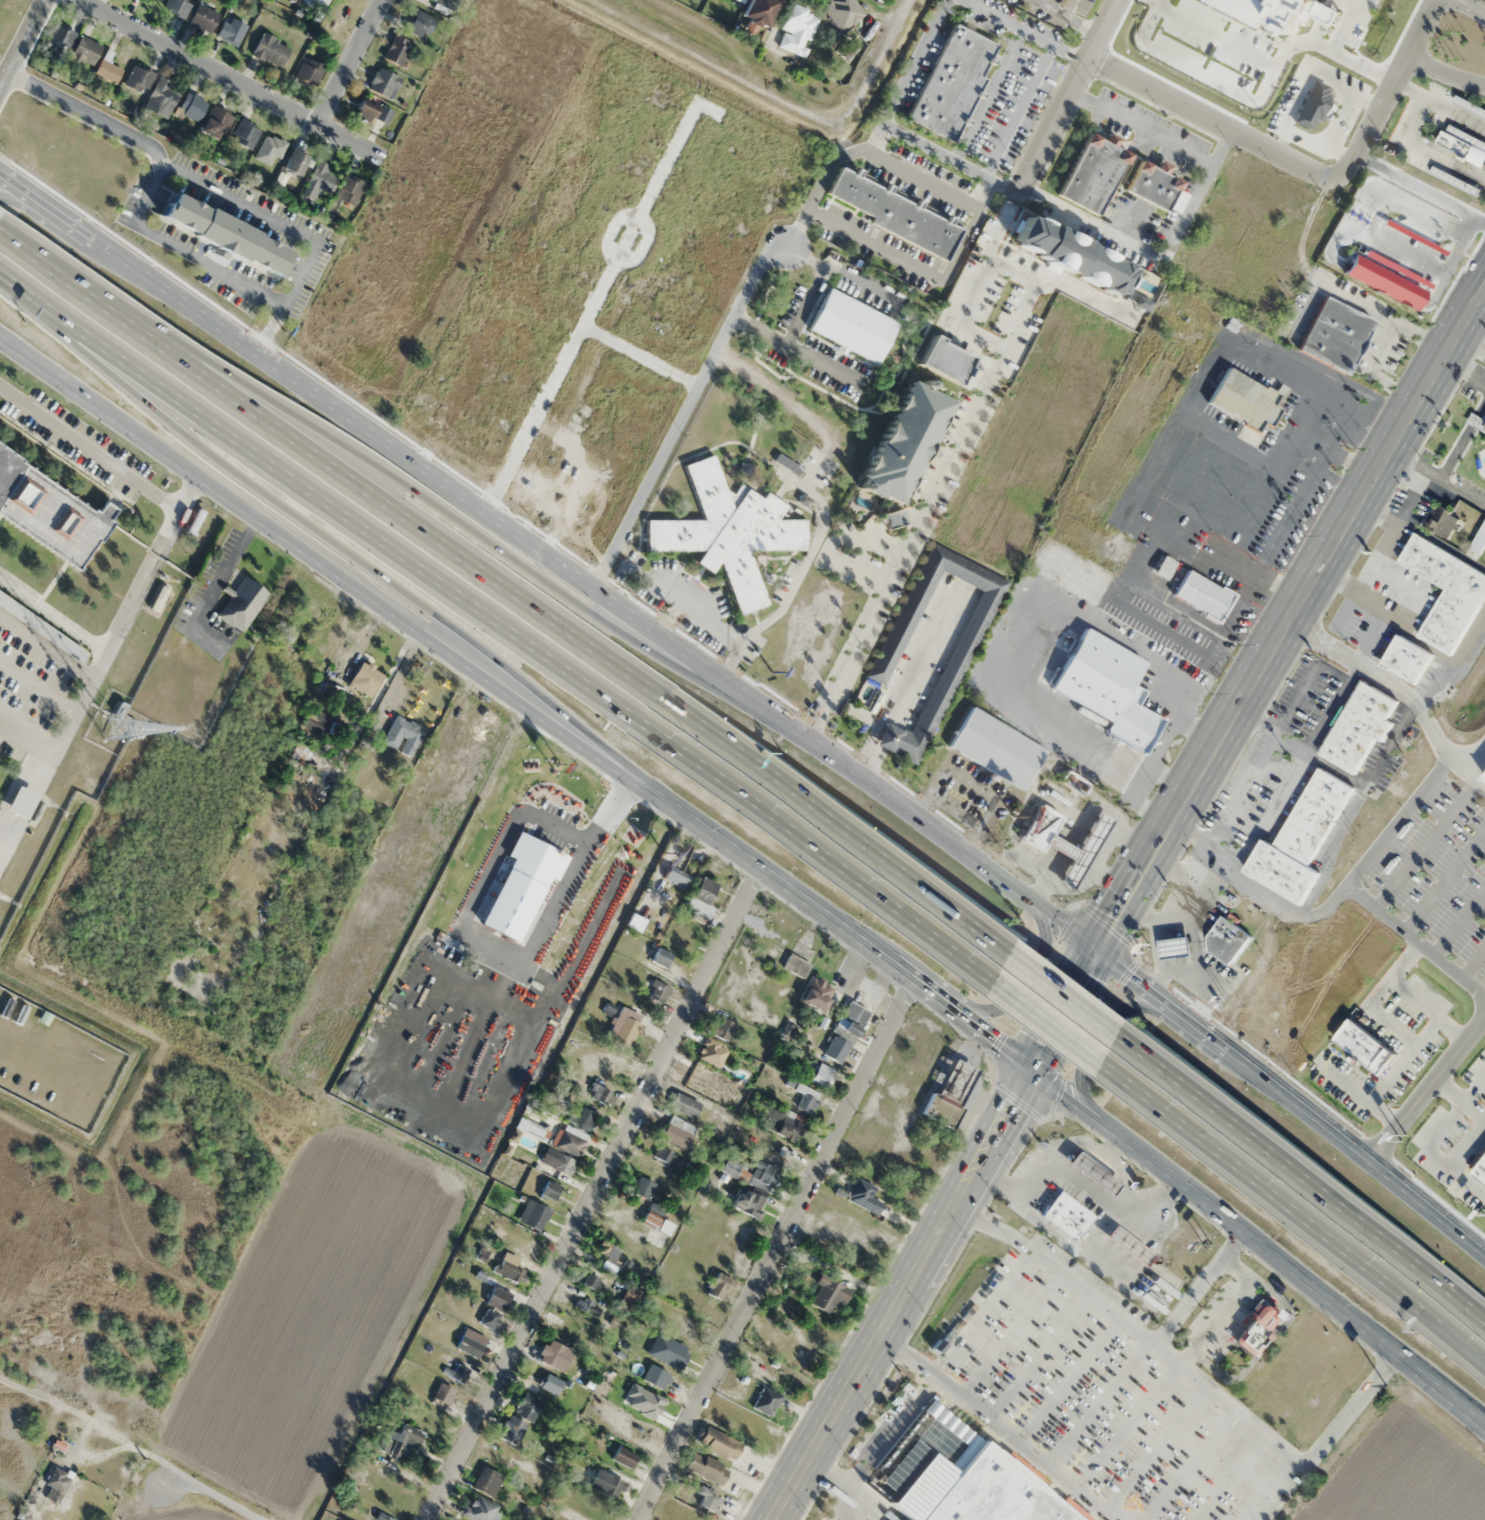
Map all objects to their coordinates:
road: (1477, 6)
building: (177, 7)
building: (759, 10)
building: (842, 12)
building: (203, 17)
building: (420, 23)
building: (231, 30)
building: (797, 30)
building: (59, 39)
road: (23, 46)
building: (270, 49)
building: (397, 50)
building: (83, 53)
road: (349, 62)
building: (108, 68)
building: (309, 71)
road: (1446, 74)
building: (139, 79)
road: (230, 79)
building: (952, 81)
building: (384, 83)
road: (1410, 89)
road: (1390, 90)
building: (162, 97)
road: (1066, 98)
building: (1313, 104)
building: (192, 106)
building: (1470, 106)
building: (364, 110)
building: (383, 114)
road: (1212, 118)
building: (216, 122)
road: (1410, 127)
building: (245, 133)
road: (1427, 145)
building: (1463, 145)
building: (269, 149)
building: (295, 161)
building: (1092, 173)
building: (1456, 180)
building: (318, 181)
building: (1156, 186)
road: (152, 187)
building: (349, 190)
road: (22, 193)
building: (895, 213)
road: (292, 230)
building: (224, 234)
building: (1436, 234)
building: (851, 326)
building: (1336, 334)
road: (1470, 343)
road: (1463, 367)
building: (1243, 400)
building: (501, 402)
building: (619, 411)
road: (684, 413)
building: (1482, 423)
road: (1462, 438)
building: (902, 442)
road: (1400, 472)
road: (1437, 475)
road: (440, 481)
building: (49, 510)
road: (1374, 516)
building: (892, 518)
building: (1442, 521)
building: (729, 532)
building: (1477, 543)
road: (1441, 544)
road: (1375, 556)
road: (367, 564)
road: (538, 576)
road: (344, 579)
road: (513, 586)
road: (1411, 590)
building: (1446, 592)
building: (1202, 595)
building: (241, 599)
road: (1386, 614)
road: (1290, 617)
road: (499, 632)
building: (969, 632)
road: (1372, 639)
building: (66, 647)
building: (1406, 659)
road: (1452, 661)
building: (365, 679)
building: (1106, 687)
road: (1399, 690)
building: (317, 723)
building: (1357, 726)
building: (403, 734)
building: (996, 748)
building: (299, 752)
building: (1484, 779)
building: (1073, 783)
building: (17, 803)
building: (632, 819)
road: (1399, 821)
building: (1040, 829)
building: (1299, 839)
road: (1426, 844)
gas station: (1080, 850)
building: (504, 863)
road: (988, 872)
building: (678, 874)
road: (1443, 879)
building: (547, 885)
building: (703, 898)
road: (1334, 901)
road: (1459, 922)
building: (1227, 941)
gas station: (1174, 948)
building: (1175, 948)
traffic signals: (1095, 950)
building: (661, 957)
road: (1473, 963)
building: (488, 964)
building: (796, 965)
road: (1393, 973)
road: (1019, 986)
road: (1078, 989)
building: (659, 992)
building: (818, 994)
road: (1426, 1010)
road: (1061, 1011)
road: (1055, 1024)
road: (1393, 1024)
building: (626, 1027)
building: (723, 1029)
building: (845, 1033)
road: (1097, 1040)
building: (1359, 1045)
road: (1403, 1060)
traffic signals: (1028, 1072)
building: (821, 1075)
building: (698, 1080)
road: (1424, 1090)
building: (599, 1094)
road: (1359, 1095)
road: (1458, 1098)
building: (808, 1100)
building: (686, 1106)
road: (1290, 1106)
road: (1083, 1114)
building: (584, 1117)
building: (780, 1124)
building: (678, 1132)
building: (570, 1139)
road: (1433, 1139)
road: (1465, 1140)
building: (664, 1155)
building: (557, 1161)
building: (732, 1167)
road: (1308, 1169)
building: (1481, 1170)
building: (763, 1173)
building: (1093, 1174)
gas station: (1093, 1174)
building: (508, 1178)
building: (643, 1187)
building: (550, 1190)
road: (595, 1196)
building: (748, 1203)
building: (534, 1214)
building: (1066, 1215)
road: (1296, 1218)
building: (657, 1226)
building: (1127, 1247)
gas station: (1127, 1247)
road: (779, 1252)
building: (610, 1255)
building: (509, 1268)
road: (1057, 1268)
building: (591, 1281)
building: (720, 1286)
road: (1197, 1290)
building: (828, 1295)
road: (899, 1296)
building: (588, 1306)
building: (494, 1307)
road: (1224, 1307)
road: (982, 1310)
building: (678, 1325)
building: (1258, 1326)
building: (818, 1331)
road: (1013, 1333)
building: (471, 1342)
road: (1264, 1347)
building: (668, 1350)
building: (555, 1354)
road: (1041, 1355)
building: (462, 1370)
building: (656, 1376)
road: (1070, 1378)
building: (789, 1382)
building: (550, 1383)
building: (444, 1393)
building: (766, 1401)
road: (1100, 1402)
building: (527, 1406)
road: (1129, 1426)
road: (1476, 1428)
road: (1476, 1428)
building: (512, 1429)
road: (1006, 1429)
building: (401, 1440)
road: (880, 1442)
building: (718, 1443)
road: (1279, 1447)
road: (1157, 1450)
building: (623, 1456)
road: (1191, 1465)
building: (706, 1467)
road: (826, 1475)
building: (958, 1475)
road: (1230, 1477)
building: (58, 1479)
building: (487, 1481)
building: (606, 1484)
road: (1268, 1489)
road: (218, 1498)
building: (707, 1499)
building: (480, 1509)

